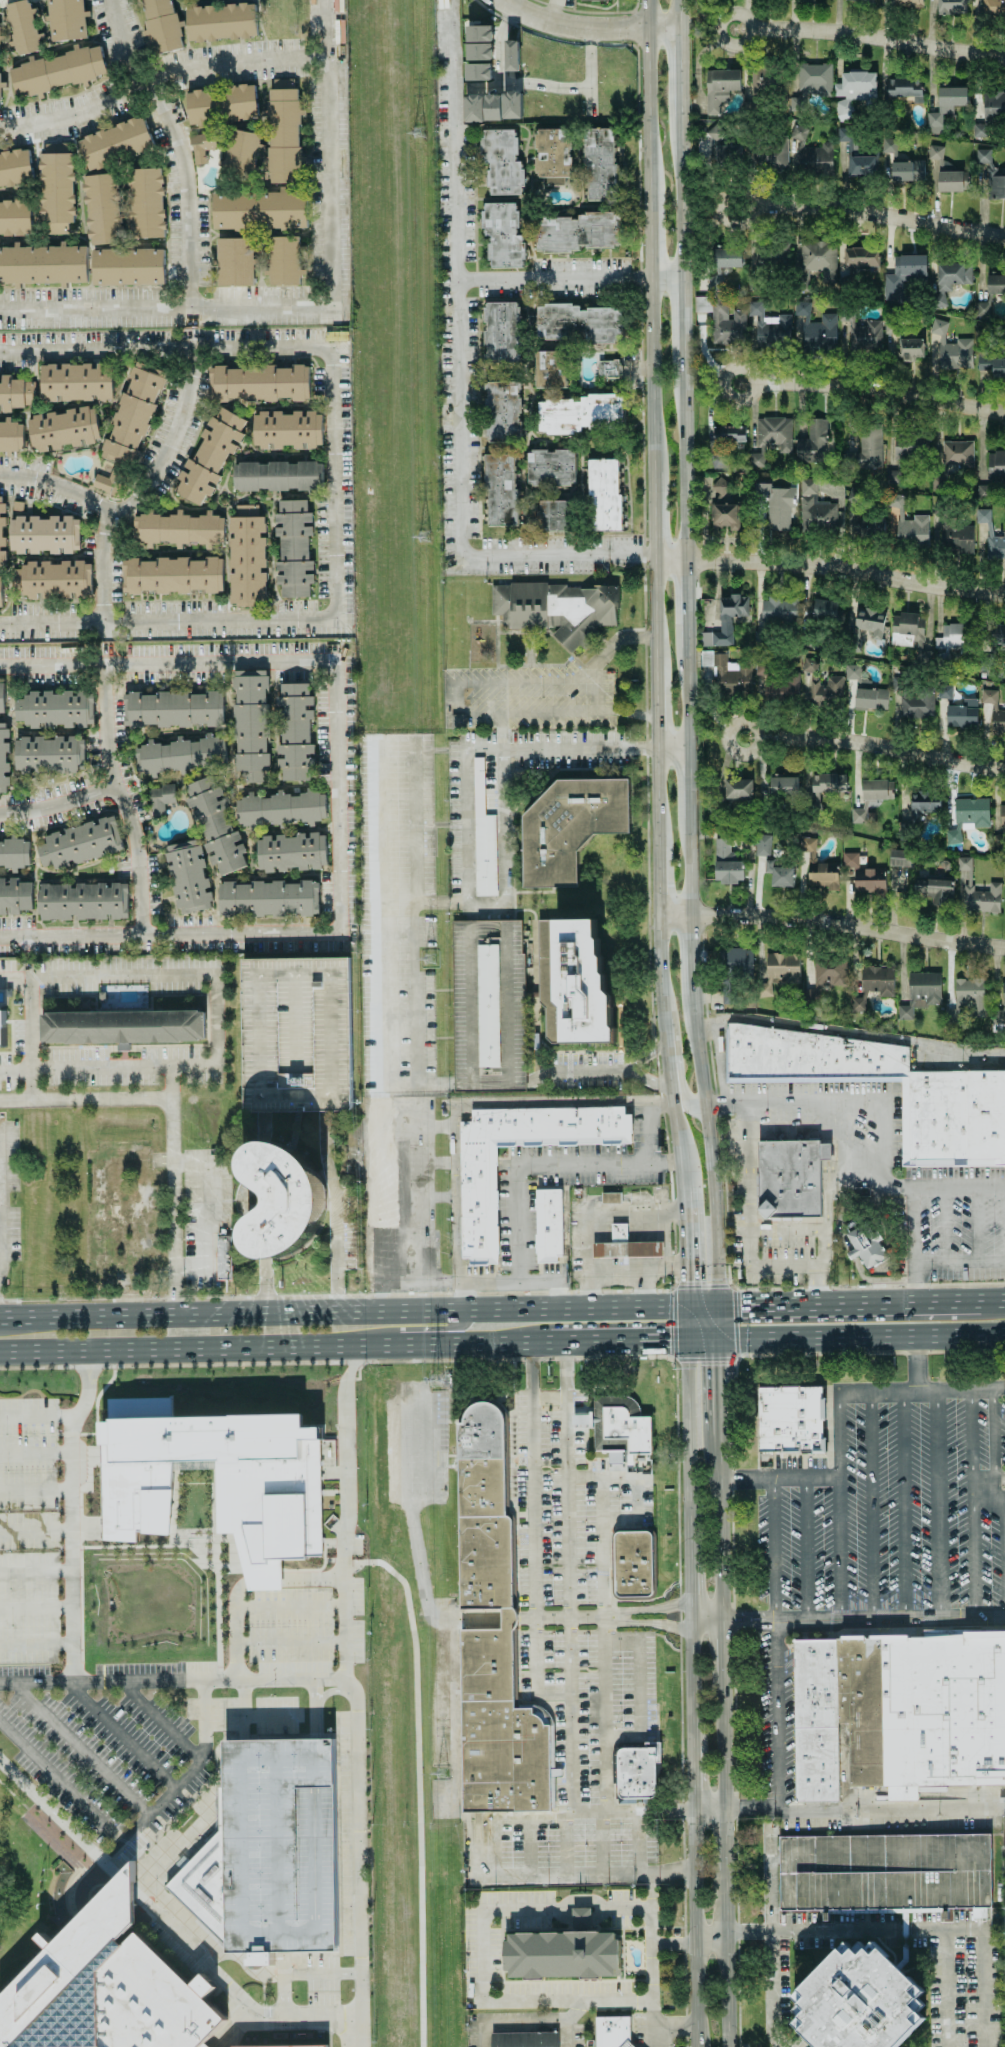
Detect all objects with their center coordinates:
building: (595, 0)
building: (862, 1)
building: (907, 3)
building: (952, 6)
building: (993, 9)
building: (66, 19)
building: (221, 22)
building: (162, 25)
building: (22, 27)
road: (588, 28)
road: (747, 28)
building: (479, 33)
road: (877, 37)
building: (480, 51)
building: (512, 55)
building: (58, 70)
building: (478, 71)
building: (0, 72)
road: (160, 78)
building: (767, 79)
building: (814, 79)
road: (532, 83)
building: (904, 87)
building: (719, 88)
building: (853, 90)
building: (221, 104)
building: (492, 106)
building: (946, 106)
building: (284, 132)
building: (798, 132)
power tower: (417, 134)
building: (842, 134)
building: (710, 137)
building: (116, 143)
building: (202, 145)
building: (888, 145)
road: (172, 147)
building: (552, 152)
building: (935, 152)
building: (240, 153)
building: (729, 153)
building: (770, 156)
building: (813, 159)
building: (501, 161)
building: (599, 164)
building: (863, 165)
building: (15, 169)
building: (907, 170)
building: (991, 175)
building: (952, 181)
building: (56, 188)
building: (147, 203)
road: (749, 205)
building: (103, 208)
building: (259, 209)
road: (878, 213)
building: (15, 217)
building: (578, 232)
building: (502, 235)
building: (772, 254)
building: (860, 256)
building: (727, 257)
building: (818, 258)
building: (285, 260)
building: (235, 261)
building: (42, 264)
building: (128, 267)
road: (554, 274)
building: (903, 275)
building: (950, 278)
building: (715, 282)
building: (995, 284)
road: (317, 304)
building: (982, 308)
building: (722, 320)
building: (577, 323)
building: (888, 326)
building: (769, 327)
building: (817, 330)
building: (501, 331)
building: (863, 334)
building: (911, 349)
road: (94, 351)
building: (998, 367)
building: (609, 368)
building: (550, 369)
road: (459, 375)
building: (77, 381)
building: (259, 382)
road: (753, 382)
road: (880, 391)
building: (16, 393)
building: (502, 410)
building: (580, 413)
building: (134, 414)
building: (63, 429)
building: (287, 429)
building: (729, 434)
building: (11, 436)
building: (771, 438)
building: (813, 441)
road: (167, 443)
building: (866, 448)
building: (957, 453)
building: (209, 456)
building: (996, 465)
building: (550, 467)
building: (277, 476)
building: (891, 477)
building: (108, 481)
building: (500, 489)
building: (604, 493)
building: (775, 504)
building: (820, 505)
road: (652, 509)
road: (103, 514)
building: (554, 515)
building: (725, 515)
building: (982, 515)
building: (872, 527)
building: (906, 527)
road: (331, 528)
building: (178, 529)
building: (2, 532)
building: (43, 533)
power tower: (424, 537)
building: (957, 537)
building: (995, 547)
building: (293, 548)
building: (247, 557)
road: (829, 568)
building: (172, 575)
building: (53, 579)
building: (1, 592)
building: (556, 609)
building: (826, 610)
building: (779, 611)
building: (726, 620)
building: (870, 621)
road: (52, 625)
building: (907, 629)
building: (1000, 634)
building: (952, 637)
road: (618, 638)
road: (685, 654)
building: (923, 655)
road: (52, 664)
building: (809, 665)
building: (852, 671)
building: (730, 674)
road: (583, 682)
road: (487, 683)
building: (781, 687)
building: (827, 691)
building: (2, 697)
building: (870, 698)
building: (917, 704)
building: (54, 709)
building: (173, 709)
building: (993, 711)
road: (630, 712)
road: (540, 713)
building: (962, 714)
building: (458, 720)
building: (250, 724)
building: (294, 732)
road: (379, 742)
road: (873, 743)
road: (597, 747)
road: (468, 749)
building: (50, 754)
building: (179, 755)
building: (4, 757)
building: (828, 782)
building: (783, 786)
building: (737, 789)
building: (877, 789)
road: (123, 799)
building: (160, 799)
road: (60, 802)
building: (923, 803)
building: (280, 808)
building: (858, 815)
building: (1002, 815)
building: (967, 817)
building: (215, 824)
building: (569, 827)
building: (483, 837)
building: (80, 843)
building: (807, 844)
building: (763, 847)
road: (337, 851)
building: (291, 852)
building: (14, 853)
building: (900, 857)
building: (850, 859)
building: (726, 862)
building: (963, 863)
building: (823, 875)
building: (188, 876)
building: (869, 880)
building: (934, 889)
building: (15, 895)
building: (268, 898)
building: (982, 898)
building: (83, 901)
road: (443, 905)
road: (831, 923)
power tower: (428, 959)
building: (738, 960)
building: (780, 970)
building: (829, 973)
road: (14, 978)
building: (877, 980)
building: (573, 982)
building: (920, 992)
building: (970, 994)
building: (858, 1003)
building: (488, 1005)
building: (999, 1014)
building: (2, 1027)
building: (122, 1027)
road: (850, 1033)
road: (216, 1034)
building: (296, 1034)
road: (29, 1038)
road: (666, 1042)
building: (805, 1057)
road: (598, 1071)
road: (173, 1081)
road: (469, 1085)
road: (682, 1090)
road: (134, 1098)
road: (290, 1100)
road: (832, 1103)
road: (456, 1108)
building: (953, 1118)
road: (418, 1126)
road: (674, 1126)
road: (117, 1155)
road: (184, 1161)
road: (420, 1162)
road: (668, 1162)
road: (0, 1163)
road: (536, 1163)
building: (788, 1176)
road: (944, 1186)
building: (296, 1195)
road: (421, 1198)
building: (610, 1198)
road: (388, 1201)
building: (478, 1201)
road: (682, 1206)
road: (145, 1222)
building: (549, 1224)
road: (590, 1225)
road: (759, 1231)
road: (96, 1237)
road: (643, 1243)
building: (625, 1245)
building: (866, 1245)
road: (915, 1246)
building: (223, 1257)
road: (960, 1260)
road: (664, 1271)
road: (599, 1273)
traffic signals: (686, 1280)
road: (686, 1282)
road: (525, 1294)
road: (130, 1296)
road: (987, 1303)
road: (843, 1306)
road: (701, 1308)
traffic signals: (739, 1308)
road: (342, 1314)
road: (716, 1322)
road: (436, 1328)
road: (860, 1335)
road: (701, 1337)
road: (622, 1338)
traffic signals: (668, 1338)
road: (279, 1345)
road: (918, 1364)
traffic signals: (717, 1365)
road: (567, 1370)
road: (528, 1372)
power tower: (437, 1382)
road: (717, 1385)
road: (549, 1393)
road: (921, 1393)
road: (38, 1418)
building: (582, 1419)
building: (790, 1419)
building: (619, 1425)
road: (989, 1431)
road: (687, 1432)
road: (836, 1437)
road: (34, 1451)
road: (987, 1472)
building: (216, 1479)
road: (776, 1480)
road: (987, 1480)
road: (635, 1484)
road: (991, 1487)
road: (34, 1489)
road: (987, 1503)
road: (971, 1504)
road: (903, 1505)
road: (937, 1505)
road: (870, 1506)
road: (718, 1526)
road: (35, 1532)
road: (70, 1532)
road: (605, 1532)
road: (689, 1538)
road: (344, 1544)
road: (774, 1550)
road: (805, 1550)
road: (837, 1550)
building: (633, 1563)
road: (536, 1566)
road: (35, 1570)
road: (313, 1576)
road: (262, 1578)
road: (689, 1578)
road: (236, 1592)
road: (35, 1607)
road: (648, 1609)
road: (575, 1612)
road: (720, 1617)
road: (573, 1618)
road: (889, 1618)
road: (747, 1621)
road: (345, 1622)
road: (648, 1624)
building: (490, 1635)
road: (291, 1639)
road: (721, 1645)
road: (345, 1658)
road: (237, 1659)
road: (71, 1664)
road: (690, 1675)
road: (351, 1690)
building: (897, 1709)
road: (776, 1714)
road: (159, 1720)
road: (124, 1733)
road: (722, 1740)
road: (453, 1744)
road: (76, 1750)
building: (638, 1771)
power tower: (438, 1773)
road: (692, 1776)
road: (891, 1806)
road: (682, 1807)
road: (750, 1807)
road: (50, 1811)
road: (582, 1820)
road: (129, 1833)
road: (723, 1837)
road: (642, 1842)
building: (279, 1845)
parking lot: (279, 1845)
road: (110, 1853)
road: (110, 1870)
building: (884, 1872)
parking garage: (884, 1872)
road: (650, 1877)
road: (127, 1887)
road: (651, 1891)
road: (495, 1908)
building: (978, 1912)
building: (581, 1919)
road: (692, 1927)
road: (823, 1929)
road: (771, 1938)
building: (563, 1956)
road: (197, 1957)
road: (722, 1957)
road: (320, 1974)
building: (107, 1988)
road: (945, 1988)
road: (282, 1994)
building: (858, 2002)
road: (310, 2013)
road: (551, 2019)
road: (738, 2026)
building: (613, 2031)
road: (489, 2033)
road: (572, 2033)
building: (525, 2039)
building: (281, 2046)

